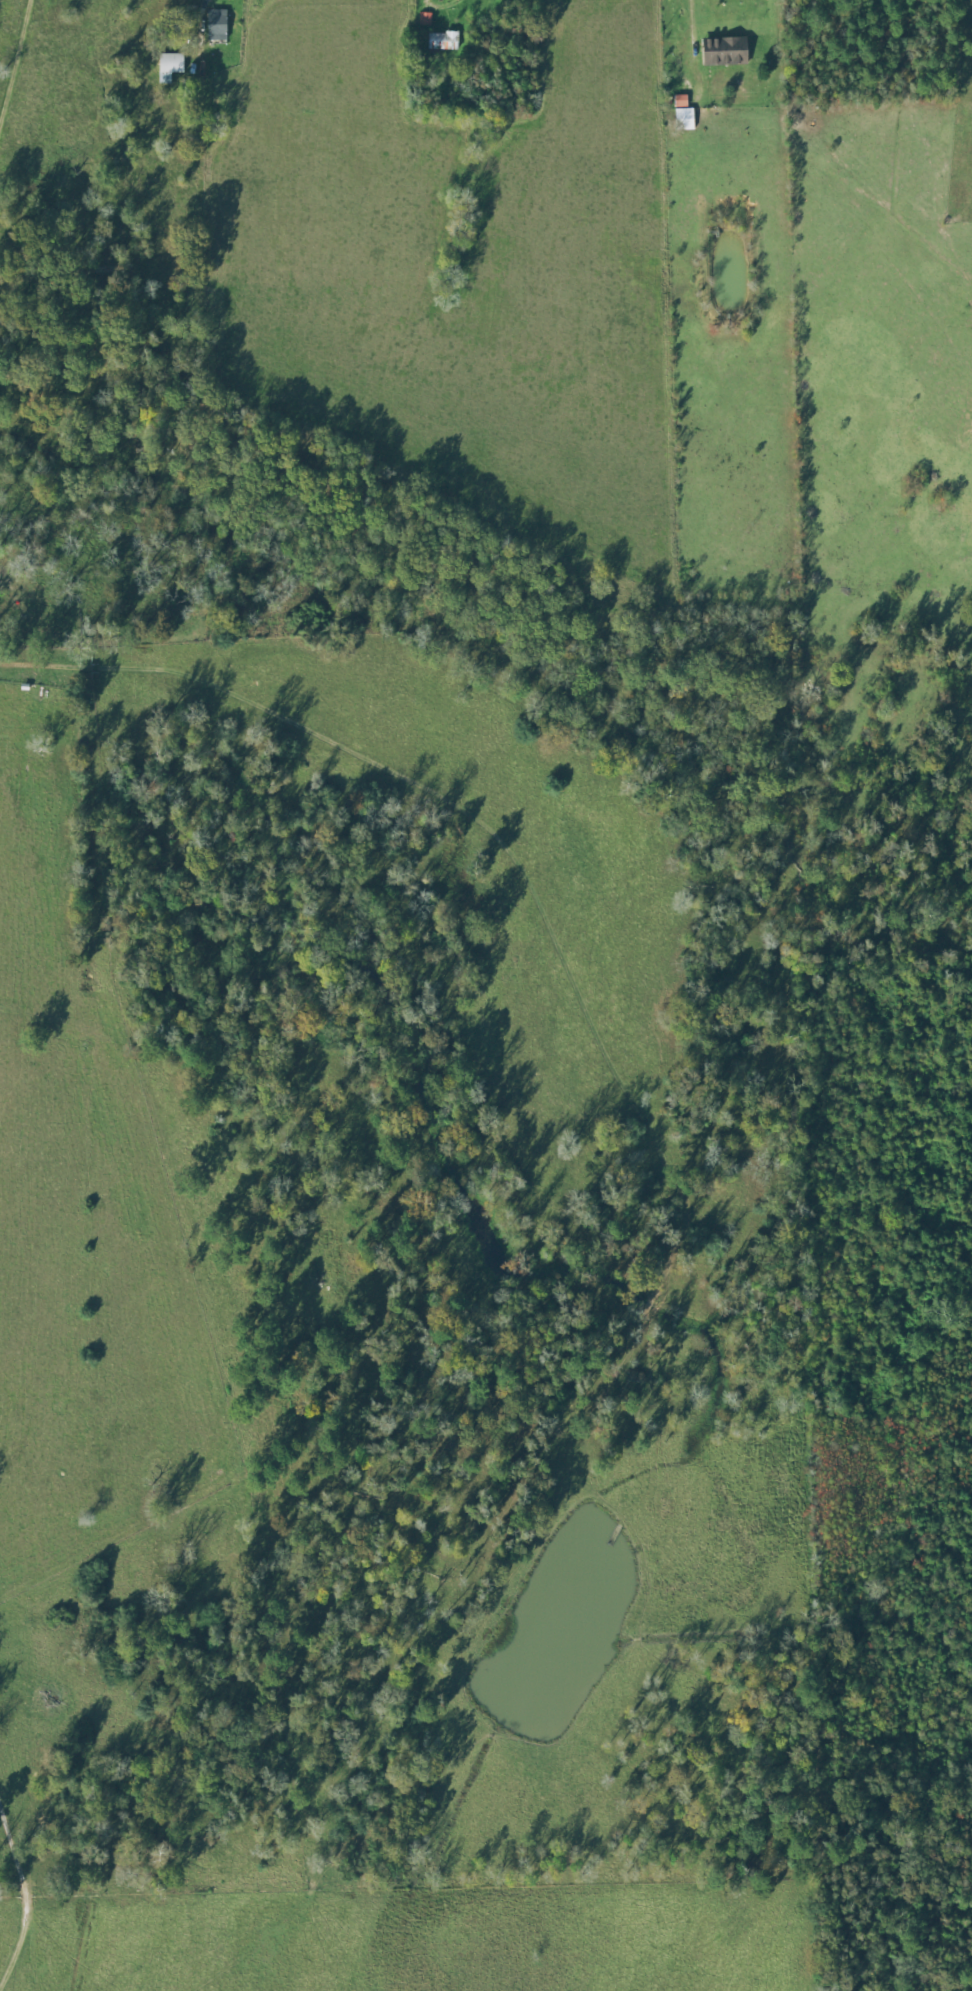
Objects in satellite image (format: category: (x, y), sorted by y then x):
building: (216, 26)
building: (442, 42)
building: (723, 52)
building: (169, 67)
building: (679, 101)
building: (683, 119)

